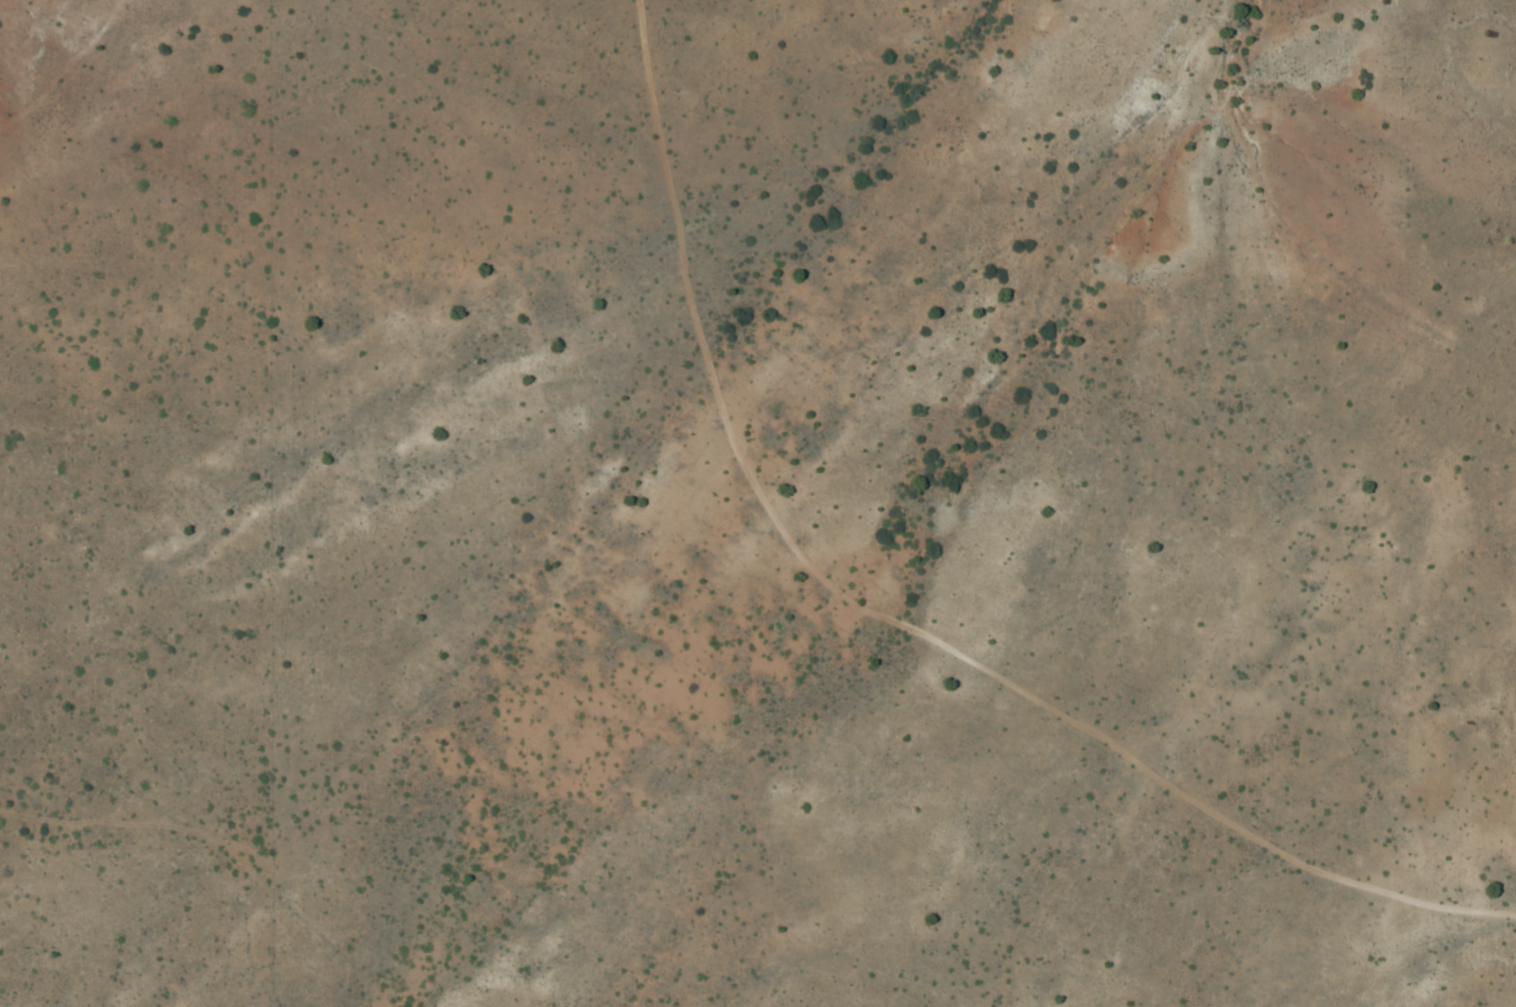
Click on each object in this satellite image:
road: (762, 829)

